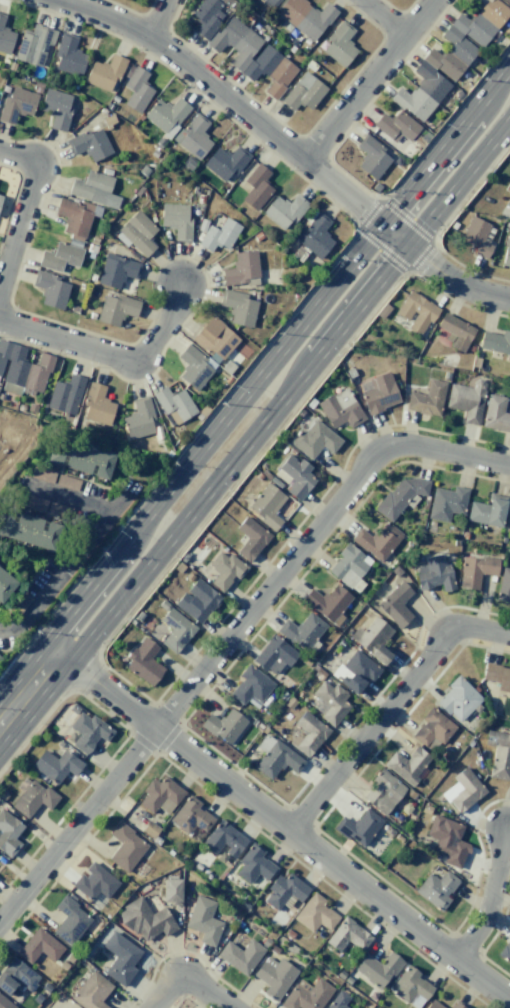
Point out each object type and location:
building: (507, 1)
building: (301, 15)
building: (207, 17)
road: (385, 18)
road: (161, 19)
building: (5, 37)
building: (466, 38)
building: (339, 44)
building: (33, 45)
building: (68, 55)
building: (253, 56)
building: (104, 73)
road: (371, 80)
building: (136, 89)
building: (303, 92)
building: (421, 92)
building: (17, 104)
building: (56, 108)
building: (166, 115)
building: (396, 126)
building: (193, 136)
building: (89, 144)
road: (286, 146)
building: (371, 157)
building: (225, 162)
building: (256, 187)
building: (93, 189)
building: (0, 196)
building: (507, 202)
building: (283, 211)
road: (26, 213)
building: (75, 216)
building: (176, 220)
traffic signals: (384, 225)
building: (136, 233)
building: (219, 235)
building: (315, 235)
building: (477, 236)
traffic signals: (409, 245)
building: (507, 253)
building: (60, 257)
building: (241, 269)
building: (116, 270)
building: (51, 289)
building: (238, 307)
building: (116, 309)
building: (416, 312)
building: (456, 331)
building: (495, 342)
building: (205, 351)
road: (111, 355)
road: (276, 358)
building: (22, 370)
building: (378, 392)
road: (288, 393)
building: (65, 394)
building: (427, 399)
building: (466, 400)
building: (96, 405)
building: (174, 405)
building: (340, 409)
building: (495, 414)
building: (138, 418)
building: (314, 440)
building: (81, 459)
building: (295, 476)
building: (54, 478)
building: (398, 497)
building: (33, 502)
building: (446, 503)
building: (266, 505)
building: (58, 510)
building: (487, 511)
building: (508, 521)
building: (29, 530)
building: (250, 538)
building: (377, 540)
building: (349, 567)
building: (224, 570)
building: (475, 570)
building: (434, 574)
building: (5, 584)
building: (503, 585)
building: (197, 601)
building: (328, 603)
building: (395, 605)
building: (175, 630)
building: (302, 631)
road: (235, 636)
building: (372, 639)
building: (274, 655)
building: (144, 662)
building: (355, 671)
building: (498, 677)
building: (251, 686)
road: (29, 687)
building: (457, 699)
building: (330, 702)
road: (392, 707)
building: (224, 725)
building: (432, 728)
building: (89, 732)
building: (308, 734)
building: (499, 754)
building: (275, 757)
building: (407, 764)
building: (57, 765)
building: (383, 791)
building: (462, 791)
building: (160, 795)
building: (34, 798)
building: (190, 816)
road: (285, 824)
building: (358, 827)
building: (8, 832)
building: (223, 840)
building: (447, 840)
building: (125, 848)
building: (253, 865)
building: (94, 882)
building: (436, 889)
building: (171, 890)
building: (284, 890)
road: (499, 899)
building: (315, 913)
building: (146, 920)
building: (203, 920)
building: (70, 921)
building: (347, 935)
building: (39, 946)
building: (505, 952)
building: (240, 955)
building: (120, 958)
building: (377, 969)
building: (16, 976)
building: (274, 976)
building: (411, 986)
road: (191, 990)
building: (91, 991)
building: (307, 995)
building: (337, 999)
building: (5, 1003)
building: (433, 1004)
building: (456, 1005)

